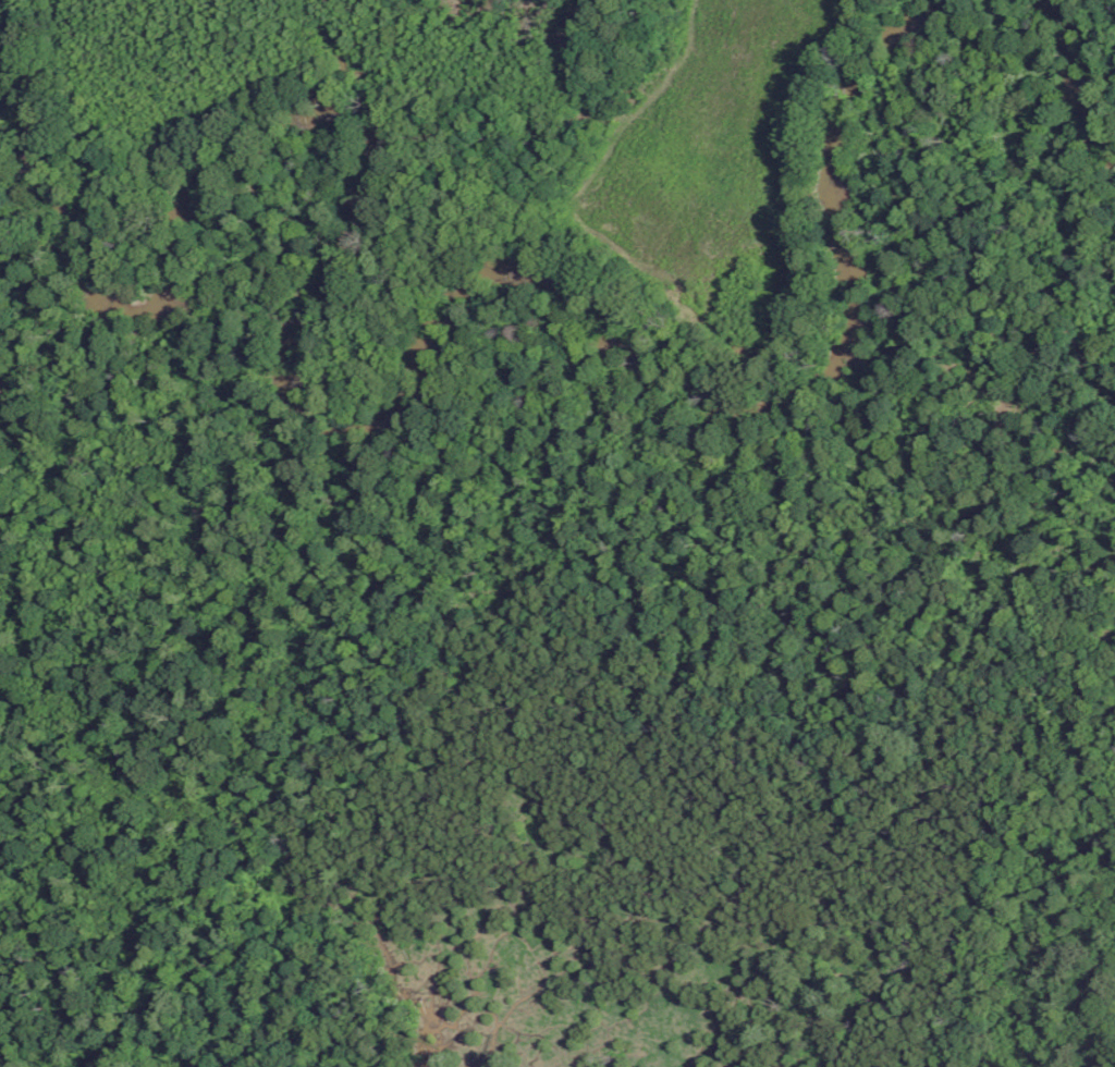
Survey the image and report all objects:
river: (1081, 64)
river: (379, 419)

